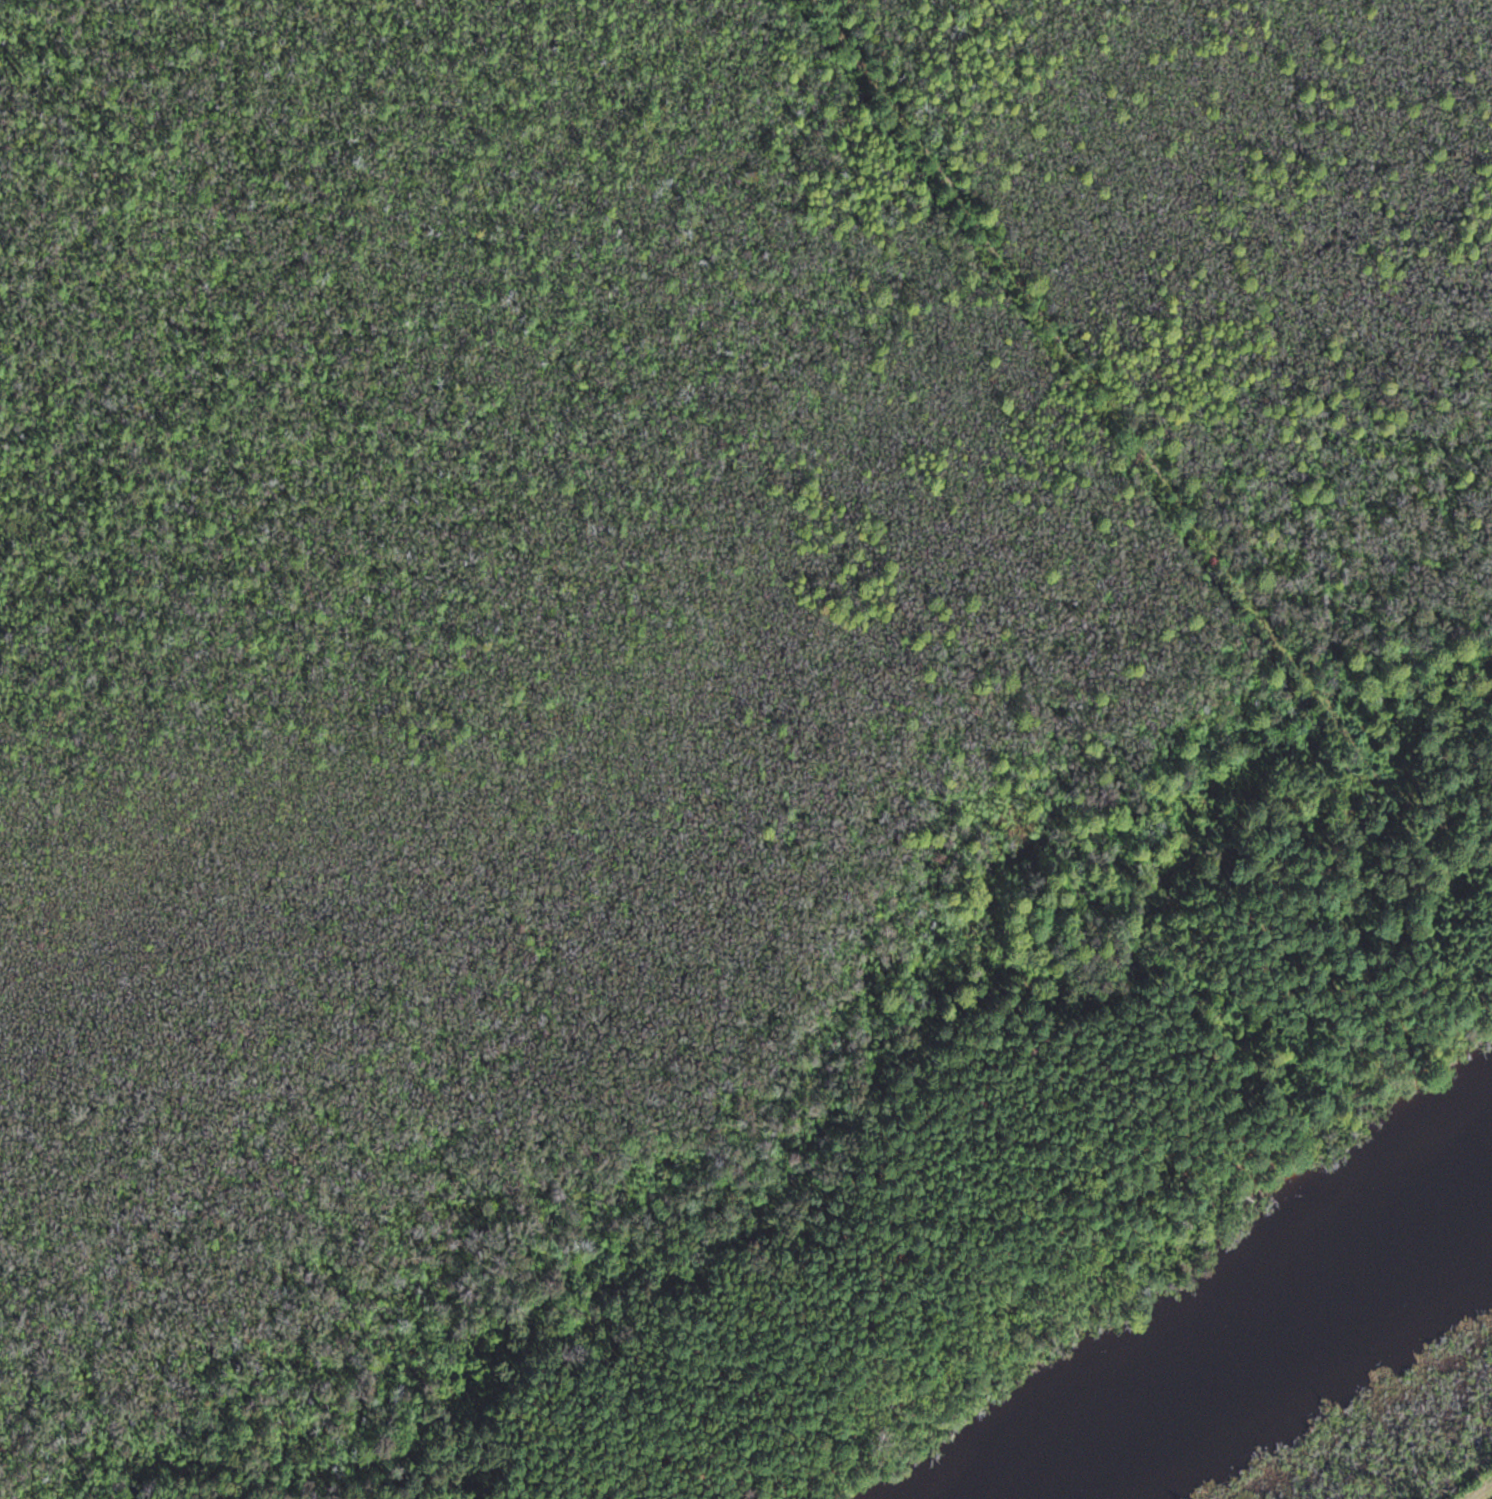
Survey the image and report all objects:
road: (1478, 1488)

